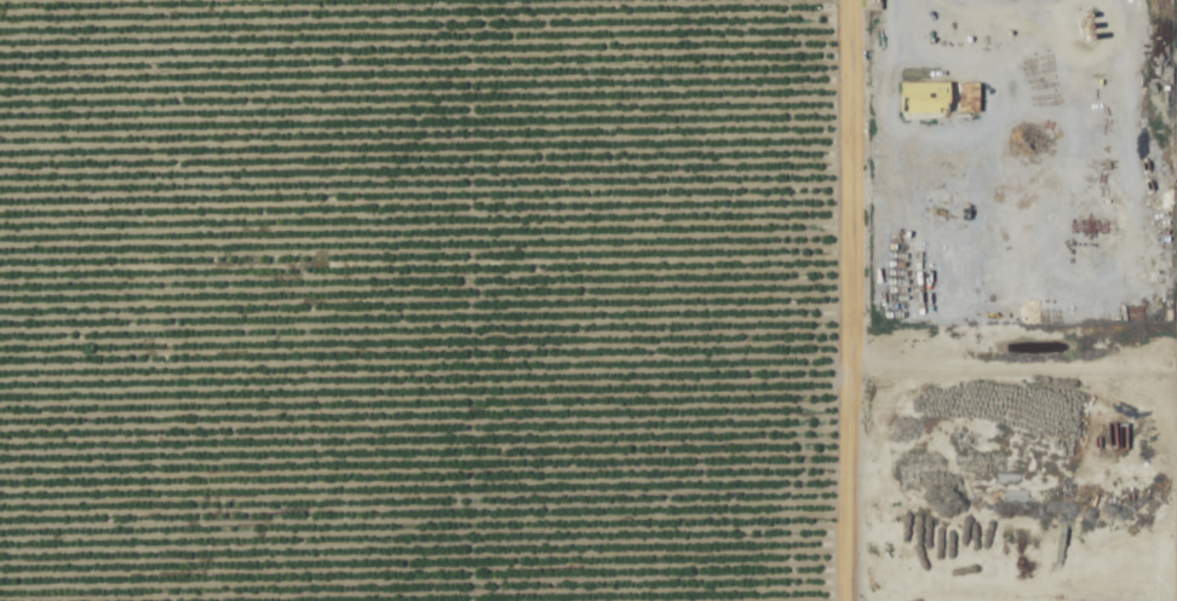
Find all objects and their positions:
building: (868, 4)
building: (921, 98)
building: (964, 99)
road: (857, 300)

